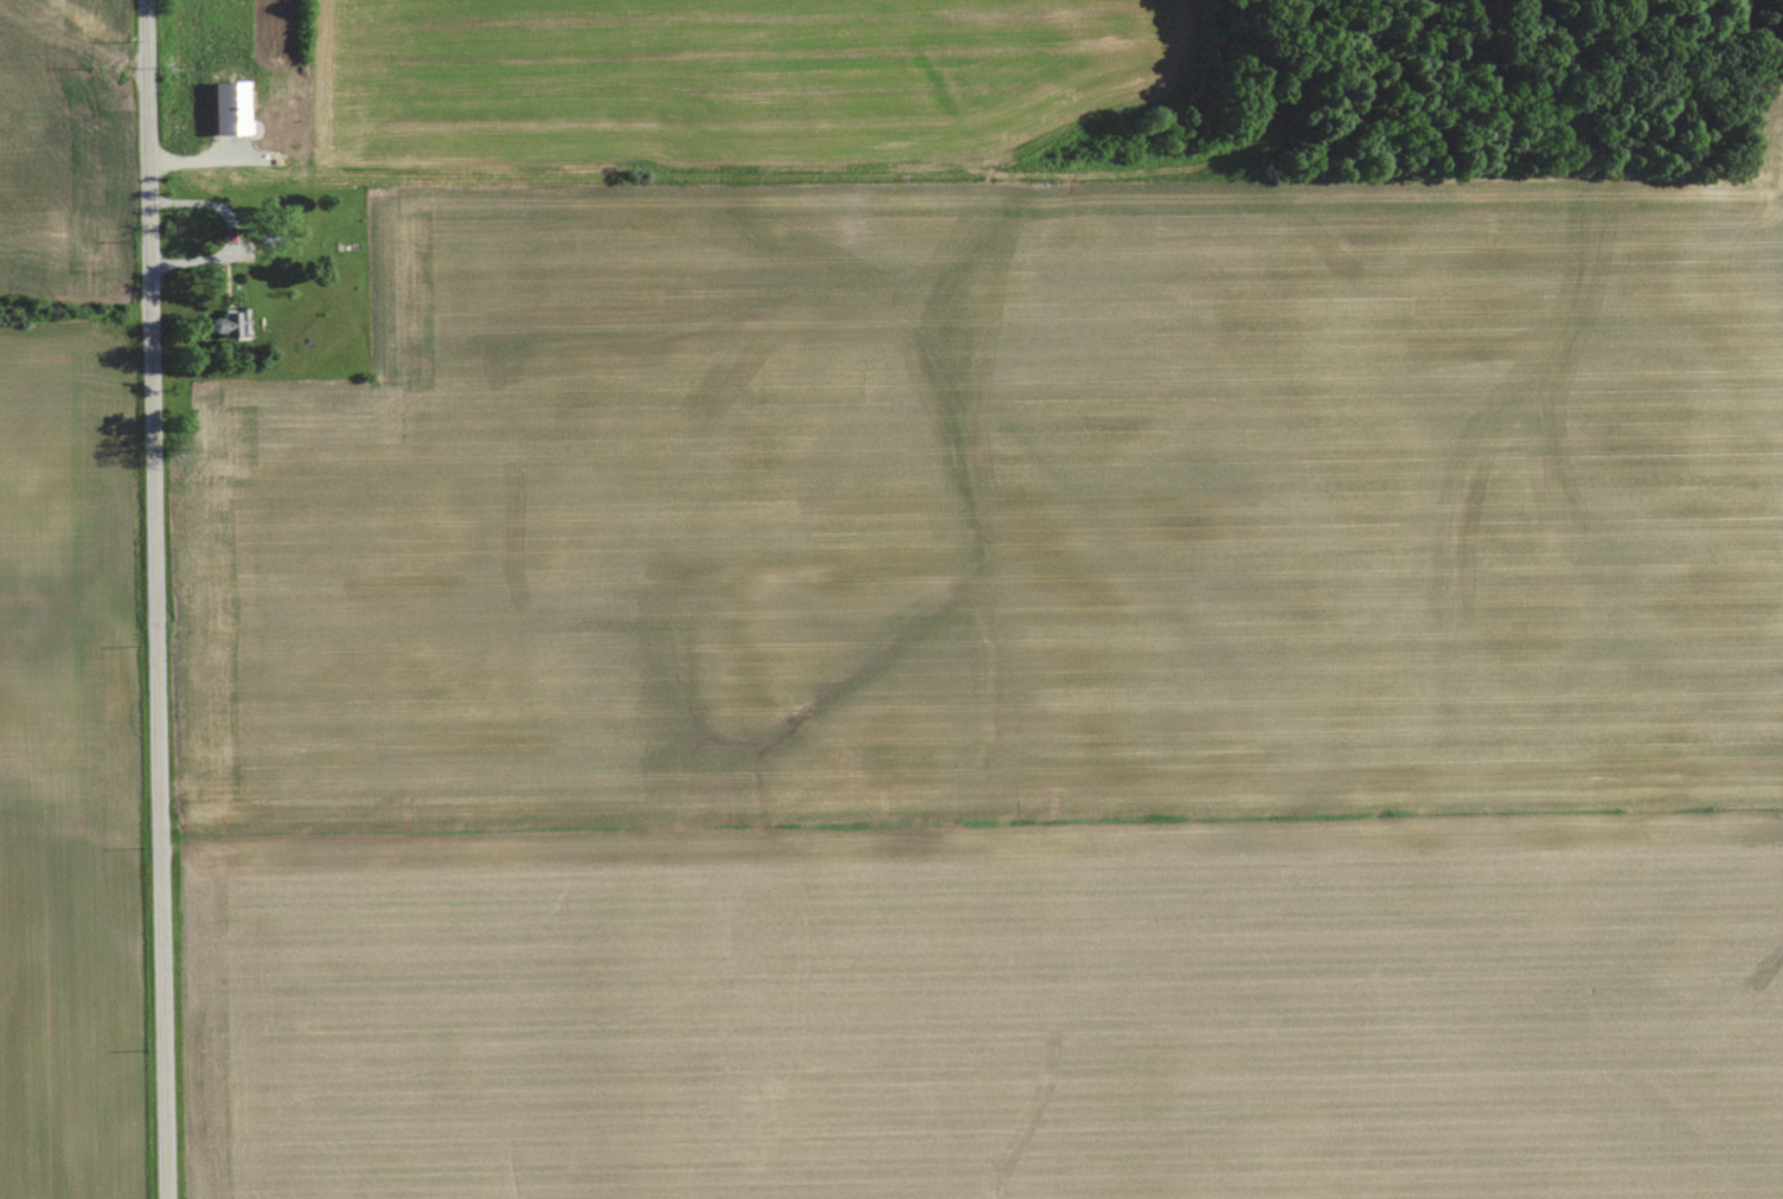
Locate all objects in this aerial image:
building: (231, 321)
road: (158, 598)

